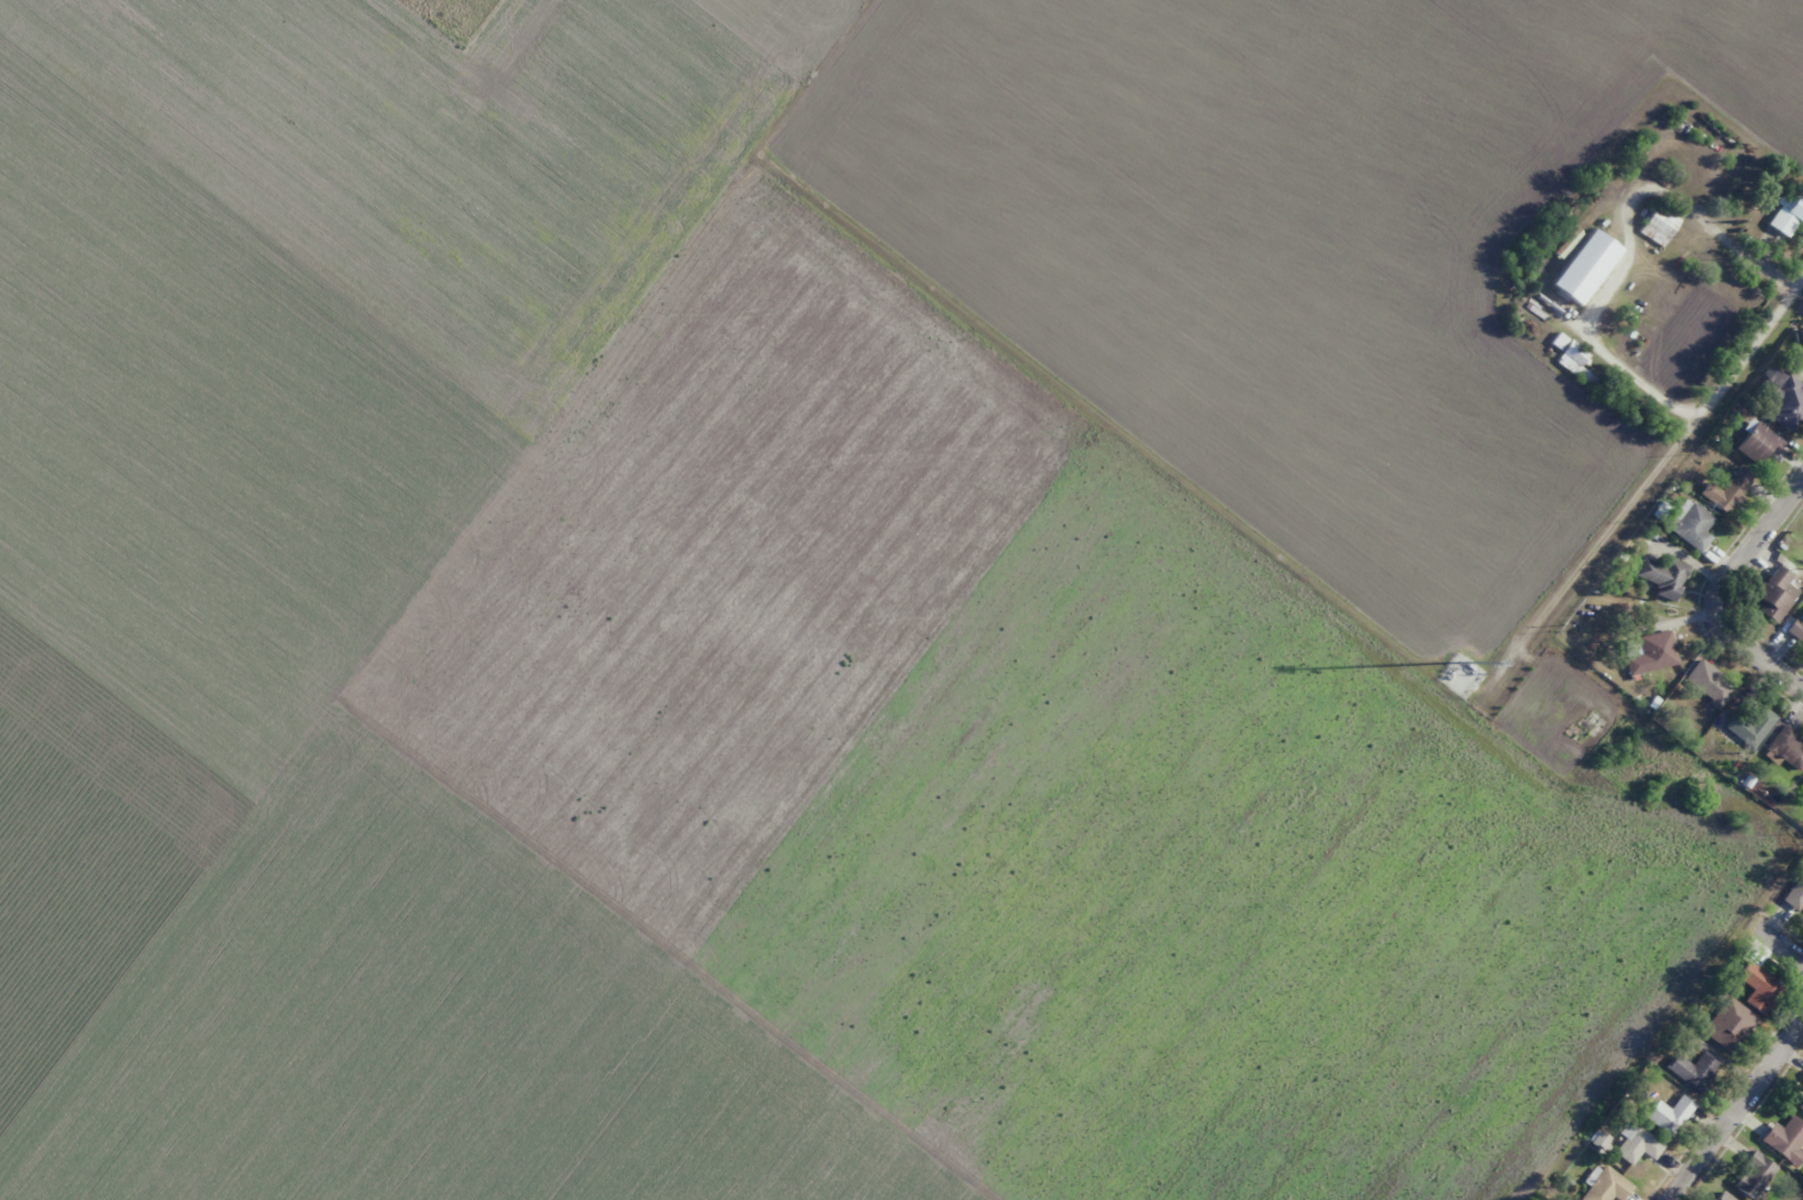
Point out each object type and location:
road: (10, 150)
building: (1788, 214)
building: (1659, 224)
building: (1585, 268)
building: (1785, 403)
building: (1759, 444)
road: (1657, 460)
building: (1727, 489)
building: (1691, 524)
building: (1664, 576)
building: (1776, 593)
road: (1721, 596)
crop: (810, 599)
building: (1797, 628)
building: (1653, 653)
building: (1709, 683)
building: (1749, 722)
building: (1785, 748)
building: (1796, 896)
road: (1792, 949)
building: (1757, 986)
building: (1729, 1025)
building: (1696, 1072)
building: (1799, 1101)
building: (1670, 1114)
road: (1742, 1124)
building: (1785, 1138)
building: (1638, 1145)
building: (1753, 1175)
building: (1605, 1187)
building: (1723, 1196)

